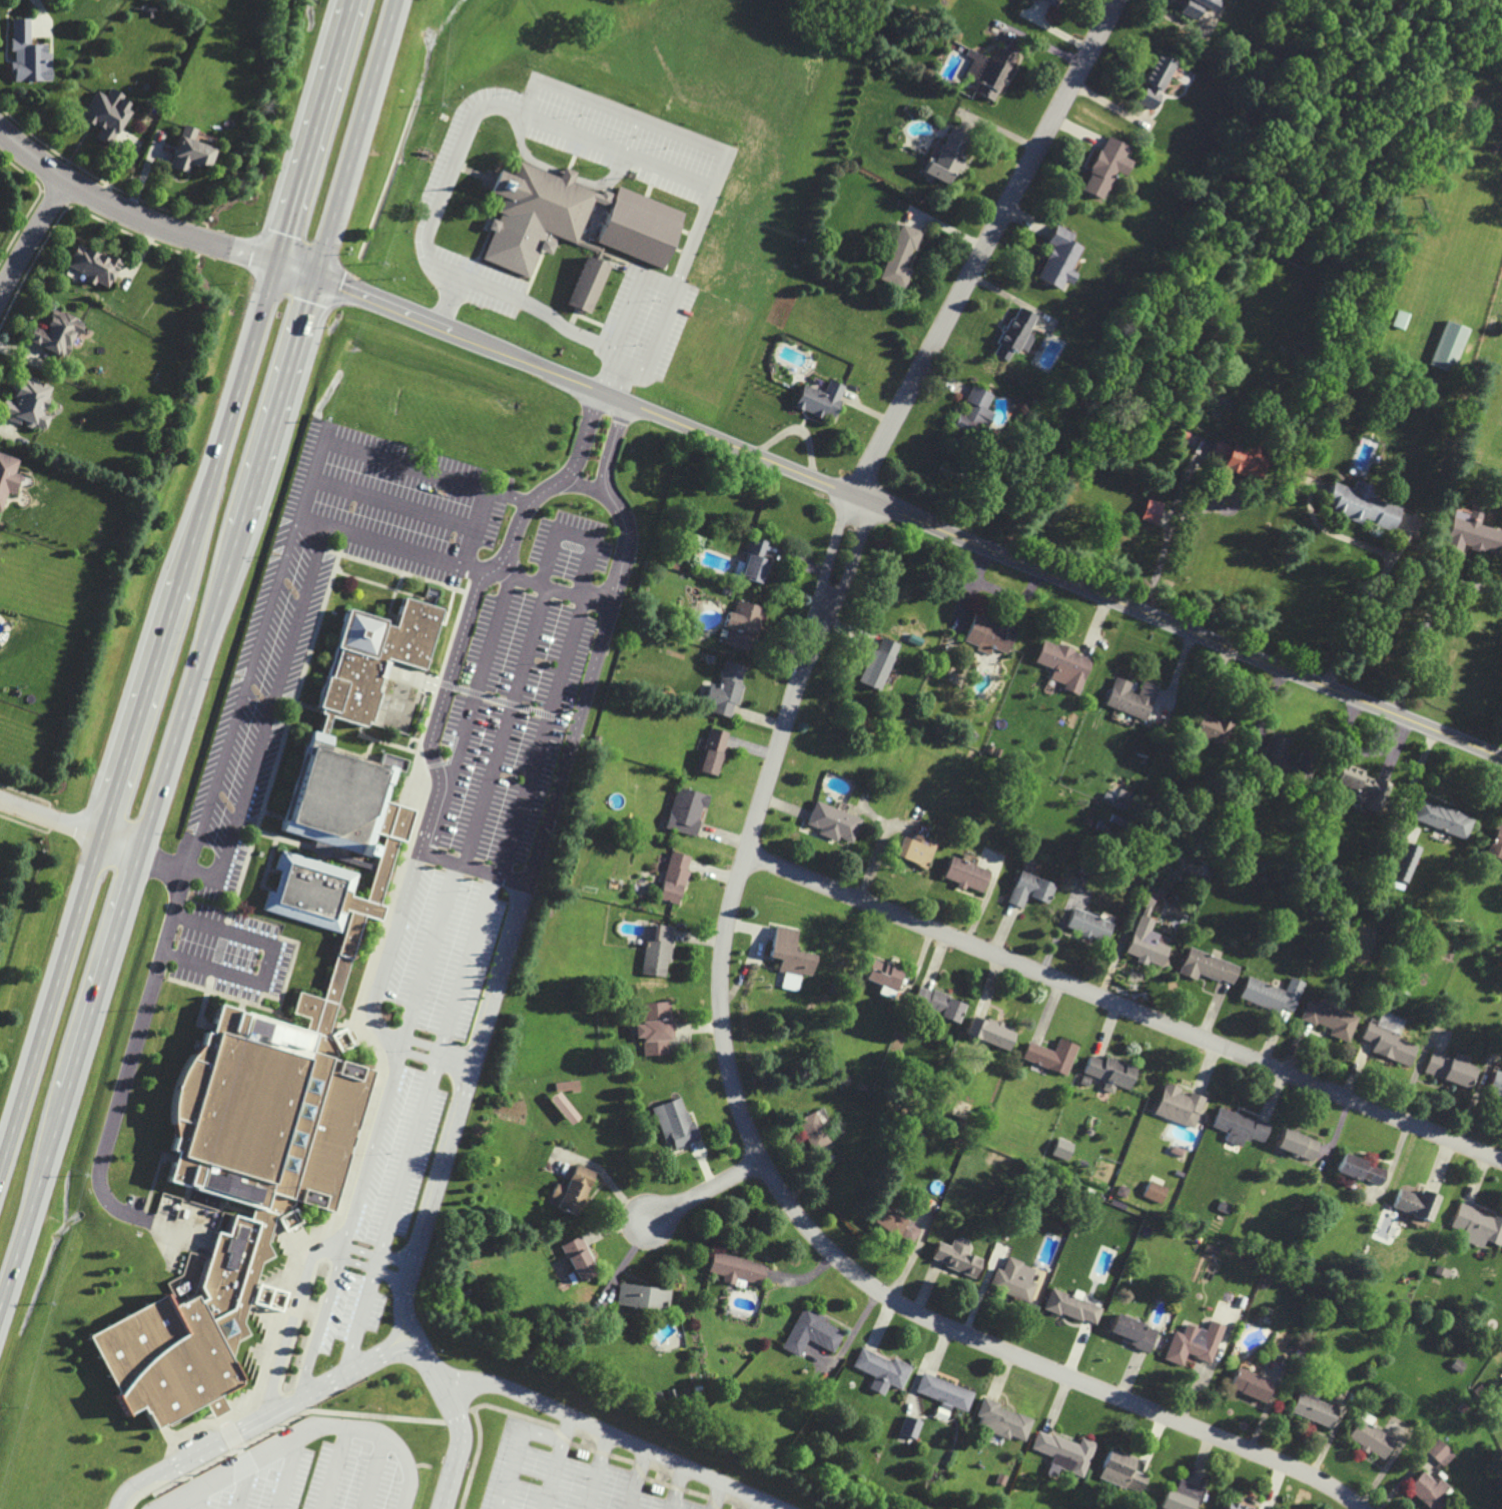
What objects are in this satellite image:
building: (1051, 1)
building: (1197, 7)
building: (28, 54)
building: (989, 71)
building: (1155, 80)
building: (107, 113)
road: (553, 125)
building: (190, 151)
building: (949, 156)
building: (1106, 167)
road: (129, 214)
building: (573, 219)
road: (34, 241)
road: (988, 247)
building: (901, 256)
building: (1060, 258)
building: (94, 265)
traffic signals: (276, 265)
traffic signals: (315, 277)
road: (669, 283)
building: (587, 284)
road: (517, 297)
building: (56, 333)
building: (1015, 333)
building: (1449, 346)
road: (613, 379)
building: (819, 400)
building: (28, 403)
building: (974, 413)
road: (373, 455)
building: (1243, 458)
building: (8, 476)
road: (586, 487)
road: (547, 491)
road: (394, 501)
road: (616, 502)
building: (1360, 504)
road: (890, 508)
building: (1152, 510)
building: (1472, 535)
road: (1166, 538)
road: (832, 553)
road: (853, 558)
building: (759, 560)
road: (1385, 571)
road: (180, 583)
road: (276, 584)
road: (554, 587)
building: (745, 617)
building: (989, 635)
road: (1421, 640)
road: (201, 652)
building: (878, 664)
building: (1064, 665)
road: (284, 669)
road: (476, 682)
building: (727, 689)
building: (1132, 698)
road: (505, 722)
building: (1211, 726)
road: (543, 732)
building: (713, 751)
building: (1283, 760)
building: (1361, 786)
building: (687, 810)
road: (50, 817)
building: (1443, 818)
building: (834, 822)
road: (120, 842)
building: (1496, 844)
building: (916, 850)
road: (474, 861)
building: (1406, 862)
road: (223, 863)
building: (967, 873)
building: (674, 877)
building: (1030, 889)
road: (405, 896)
building: (1089, 926)
building: (1147, 934)
road: (434, 947)
building: (658, 952)
building: (790, 957)
road: (473, 959)
road: (266, 963)
building: (1209, 967)
building: (884, 977)
building: (1273, 994)
building: (939, 1004)
road: (1124, 1006)
building: (1331, 1020)
building: (655, 1027)
building: (991, 1032)
road: (428, 1043)
building: (1390, 1044)
building: (277, 1052)
building: (1052, 1056)
road: (130, 1062)
building: (1452, 1068)
building: (1110, 1072)
building: (1496, 1084)
building: (1179, 1106)
building: (675, 1122)
building: (1240, 1127)
building: (813, 1131)
building: (1298, 1144)
building: (1063, 1149)
road: (411, 1150)
building: (1362, 1169)
road: (441, 1173)
building: (573, 1190)
road: (620, 1191)
building: (1155, 1191)
road: (707, 1194)
building: (1418, 1205)
road: (801, 1218)
building: (897, 1225)
building: (1478, 1226)
road: (365, 1248)
building: (958, 1256)
building: (579, 1258)
building: (737, 1269)
building: (1015, 1279)
building: (642, 1297)
building: (1073, 1307)
road: (363, 1309)
road: (323, 1317)
building: (812, 1332)
building: (1134, 1332)
building: (1194, 1343)
building: (883, 1370)
road: (338, 1371)
building: (1251, 1384)
building: (1314, 1410)
road: (262, 1411)
building: (1004, 1421)
building: (911, 1427)
road: (303, 1428)
building: (1370, 1437)
road: (461, 1444)
building: (1065, 1452)
building: (1441, 1452)
road: (292, 1468)
road: (333, 1468)
building: (1122, 1471)
road: (376, 1472)
road: (246, 1485)
building: (1430, 1491)
road: (201, 1496)
building: (1182, 1496)
building: (1235, 1506)

